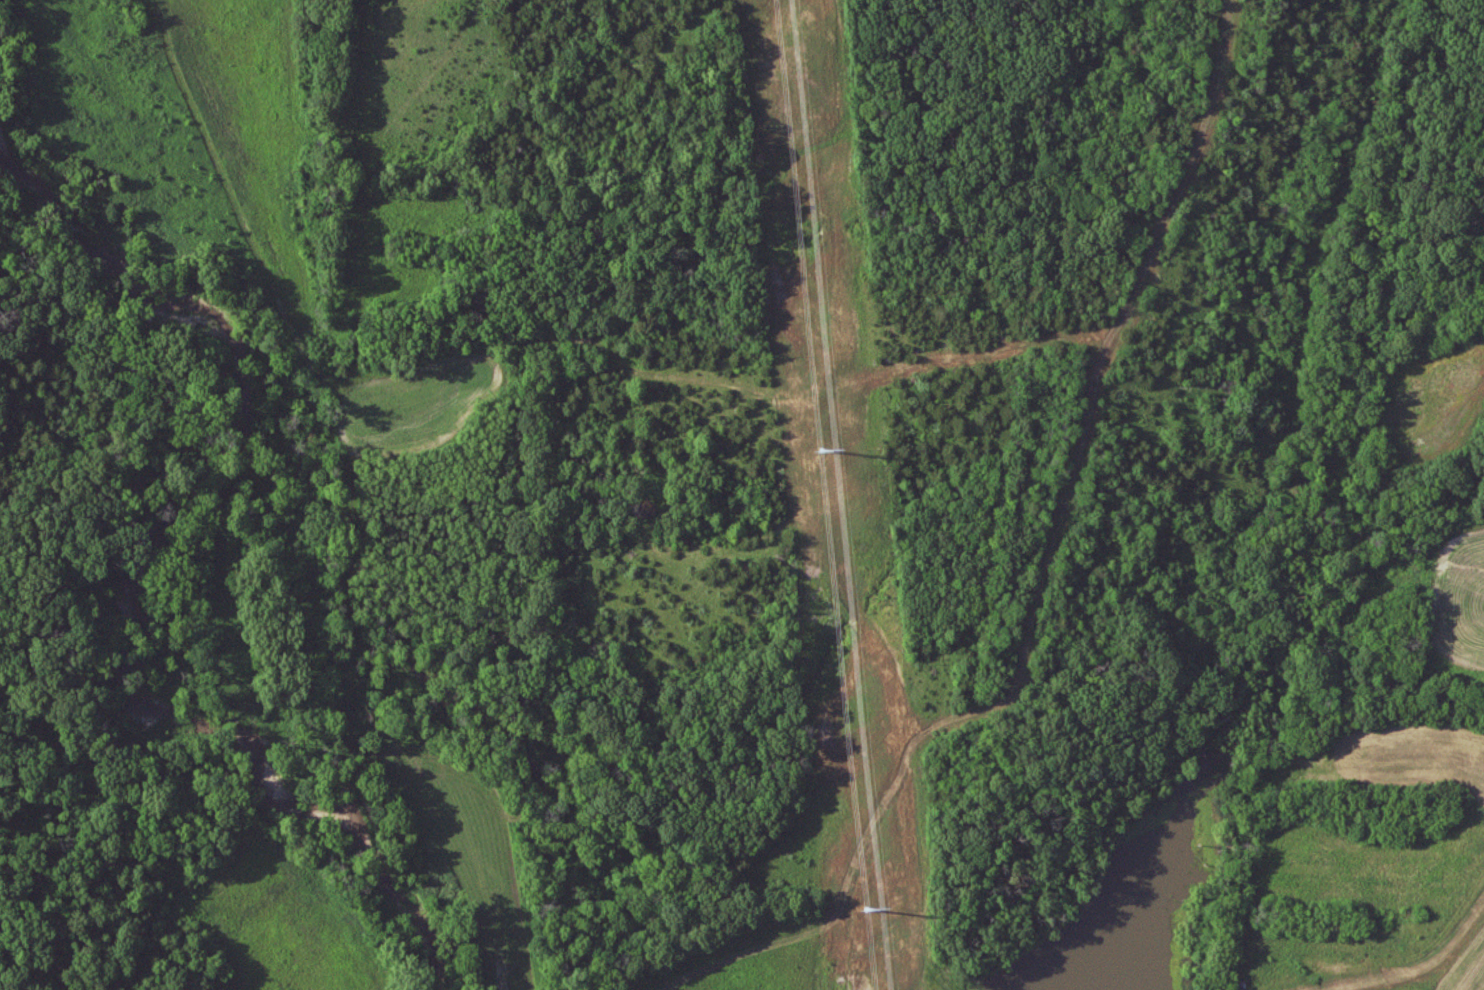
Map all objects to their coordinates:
power tower: (822, 450)
power tower: (868, 908)

